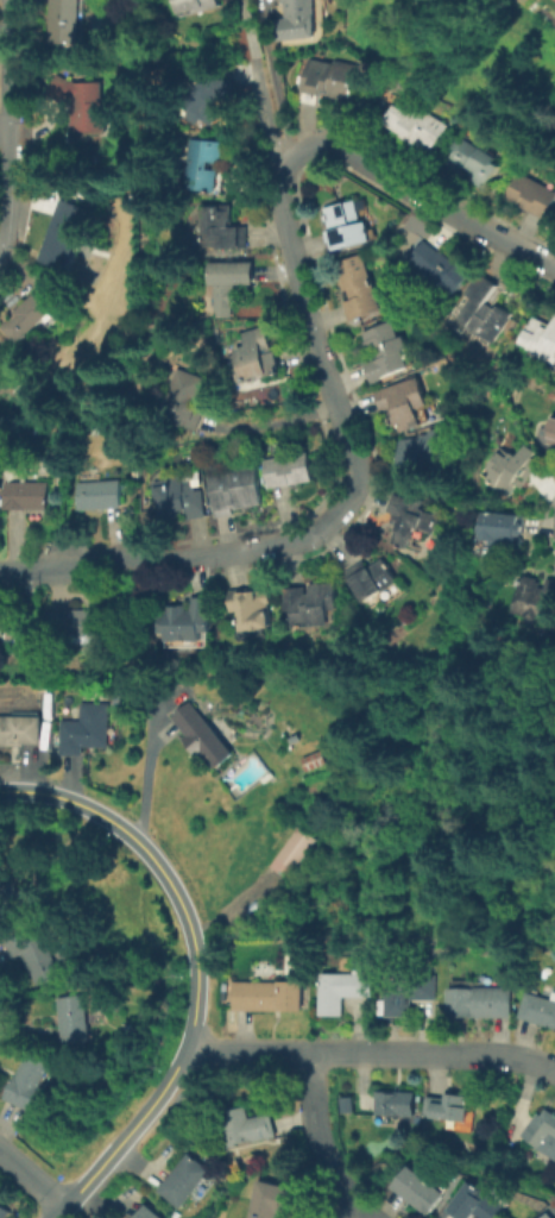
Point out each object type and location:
building: (198, 5)
building: (64, 15)
building: (297, 19)
building: (328, 80)
road: (260, 83)
building: (212, 98)
building: (82, 102)
road: (276, 106)
road: (11, 124)
building: (416, 124)
road: (5, 131)
building: (472, 159)
building: (204, 164)
road: (378, 165)
building: (530, 194)
building: (346, 226)
building: (222, 230)
building: (63, 233)
road: (1, 251)
building: (441, 266)
building: (231, 280)
building: (359, 288)
building: (484, 310)
building: (29, 313)
building: (541, 338)
building: (387, 350)
building: (259, 356)
road: (323, 358)
building: (0, 390)
building: (184, 402)
building: (401, 403)
road: (273, 426)
building: (551, 431)
building: (428, 456)
building: (510, 467)
building: (291, 472)
building: (236, 488)
building: (29, 497)
building: (102, 497)
building: (177, 501)
building: (412, 520)
building: (499, 532)
road: (273, 546)
road: (65, 566)
building: (371, 578)
building: (534, 598)
building: (315, 608)
building: (256, 614)
building: (5, 619)
building: (187, 622)
building: (78, 628)
building: (23, 729)
building: (86, 730)
building: (197, 734)
road: (139, 777)
park: (456, 821)
building: (290, 850)
building: (0, 884)
building: (6, 902)
building: (46, 962)
road: (196, 972)
building: (342, 992)
building: (270, 997)
building: (406, 997)
building: (481, 1003)
building: (540, 1011)
building: (77, 1018)
road: (371, 1053)
building: (29, 1082)
building: (343, 1103)
building: (398, 1106)
building: (449, 1110)
building: (245, 1126)
building: (543, 1132)
road: (317, 1142)
road: (31, 1182)
building: (185, 1182)
building: (421, 1192)
building: (273, 1201)
building: (477, 1205)
building: (4, 1212)
building: (149, 1213)
road: (364, 1213)
building: (547, 1217)

